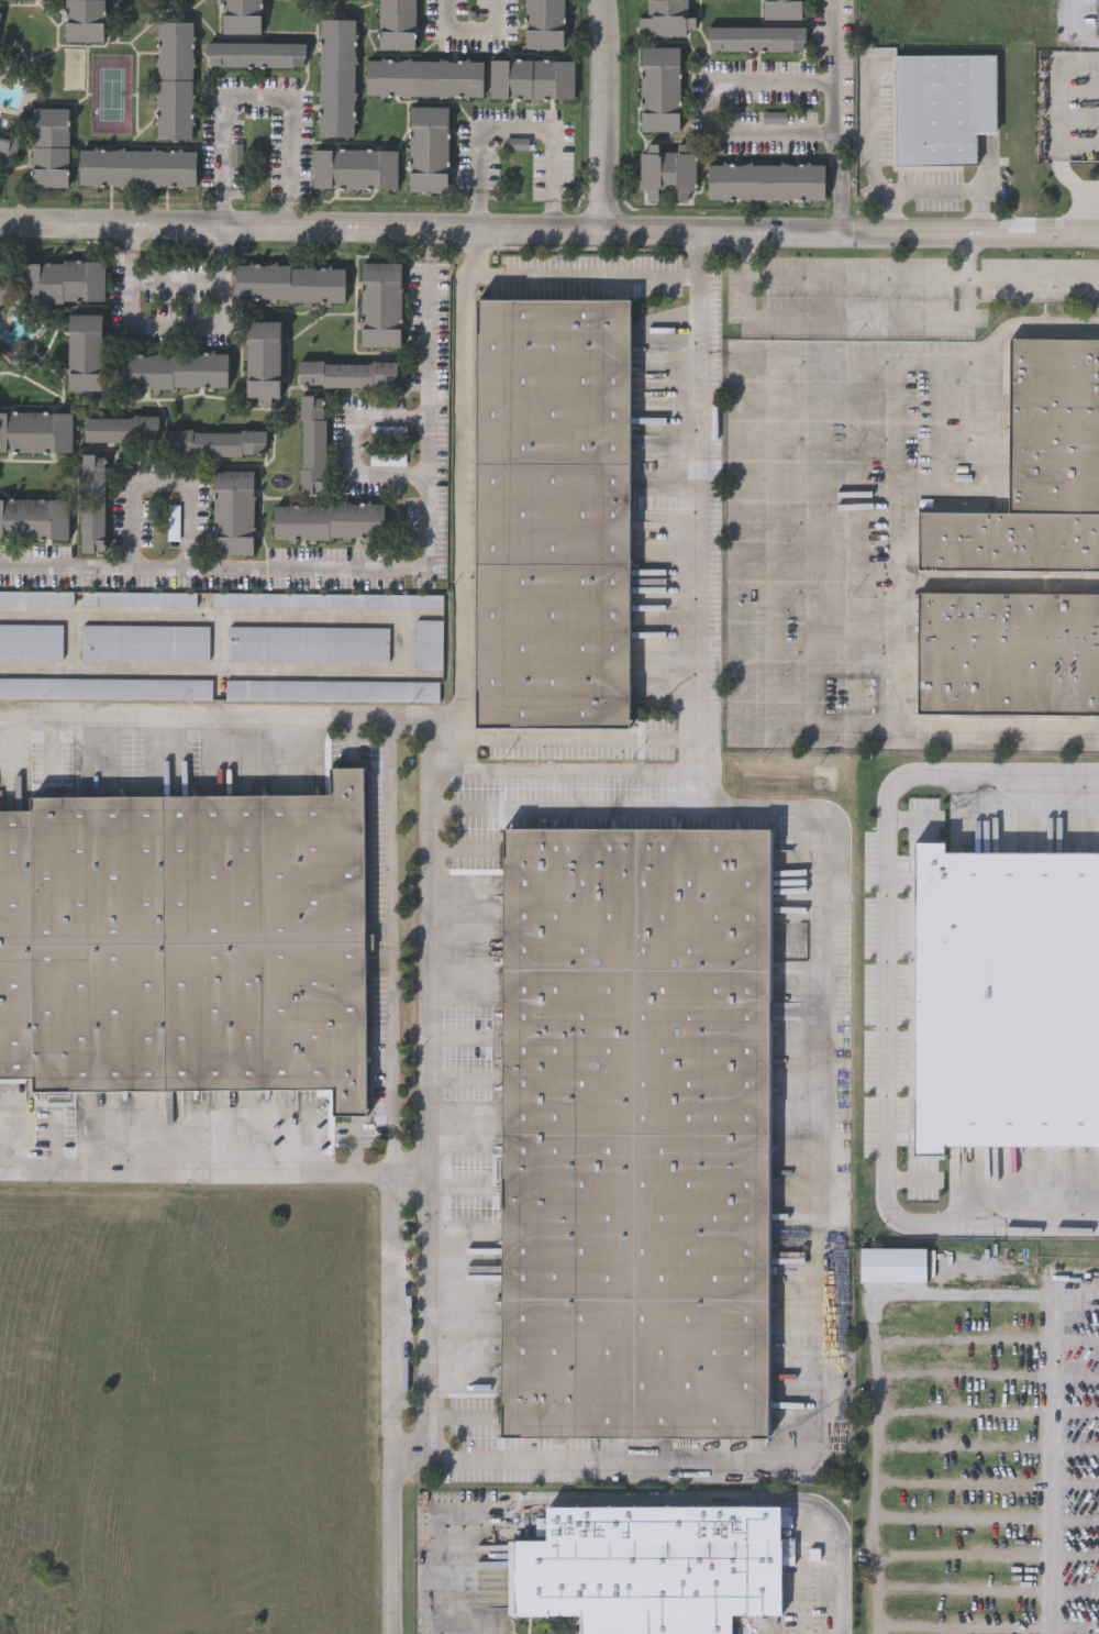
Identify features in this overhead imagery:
building: (38, 0)
building: (781, 9)
building: (0, 15)
building: (241, 15)
building: (666, 15)
building: (1097, 15)
building: (82, 19)
building: (396, 23)
building: (543, 23)
road: (1073, 32)
building: (756, 37)
road: (466, 38)
building: (256, 53)
building: (336, 76)
building: (423, 76)
building: (531, 77)
building: (174, 78)
building: (659, 87)
road: (828, 92)
road: (259, 97)
road: (704, 102)
building: (942, 102)
road: (600, 112)
road: (520, 129)
road: (875, 134)
building: (8, 142)
building: (49, 145)
building: (428, 146)
building: (136, 166)
building: (354, 167)
building: (667, 170)
building: (765, 180)
road: (937, 188)
road: (1086, 203)
road: (220, 206)
road: (839, 206)
road: (478, 207)
road: (288, 211)
road: (549, 213)
road: (549, 225)
road: (129, 236)
road: (220, 236)
road: (430, 242)
road: (430, 264)
road: (584, 277)
road: (830, 277)
road: (1004, 279)
building: (65, 280)
road: (173, 280)
building: (290, 283)
building: (3, 292)
building: (381, 303)
road: (854, 324)
road: (171, 325)
building: (86, 351)
building: (263, 360)
building: (173, 368)
building: (348, 373)
road: (936, 419)
building: (122, 428)
building: (36, 430)
building: (218, 442)
building: (313, 443)
road: (351, 445)
building: (1035, 470)
road: (158, 486)
road: (940, 488)
road: (464, 496)
building: (93, 501)
building: (551, 508)
building: (234, 511)
building: (34, 518)
building: (329, 520)
road: (735, 539)
road: (363, 567)
building: (36, 596)
building: (140, 598)
building: (326, 598)
road: (895, 612)
building: (31, 640)
building: (146, 641)
building: (309, 642)
building: (428, 642)
building: (1008, 651)
building: (104, 687)
building: (333, 689)
road: (191, 707)
road: (423, 709)
road: (579, 739)
road: (613, 769)
road: (577, 807)
building: (185, 940)
road: (885, 1002)
building: (631, 1134)
road: (395, 1171)
road: (198, 1174)
building: (1080, 1177)
building: (891, 1263)
road: (814, 1272)
road: (426, 1316)
road: (875, 1353)
parking lot: (990, 1462)
road: (1053, 1466)
road: (652, 1498)
building: (650, 1567)
road: (803, 1567)

